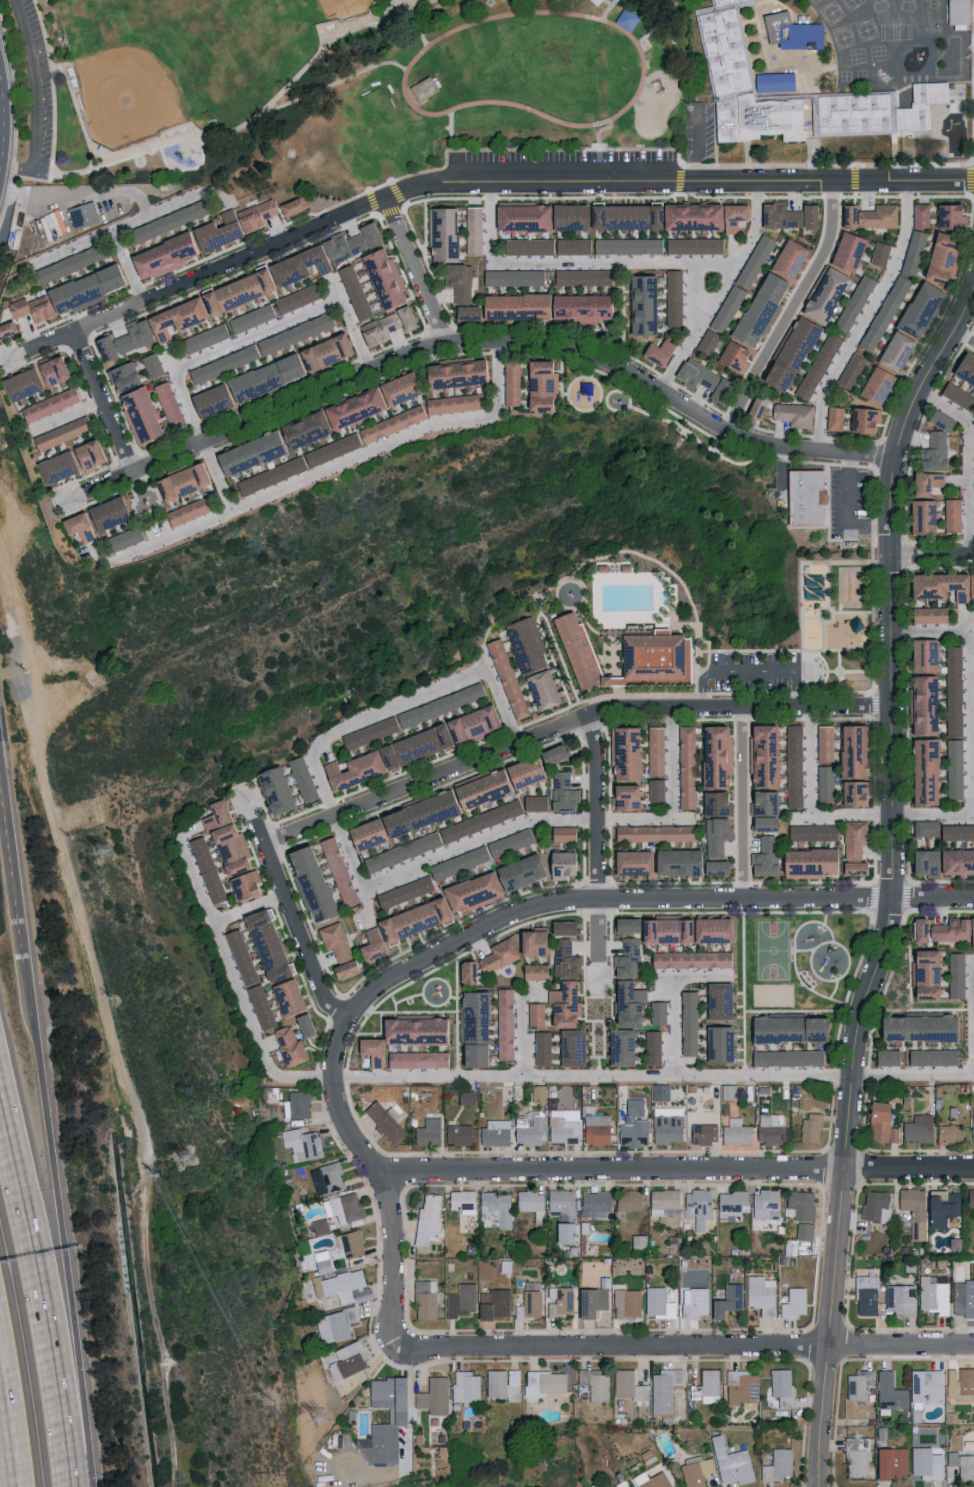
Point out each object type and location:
road: (610, 10)
park: (307, 13)
building: (962, 16)
road: (661, 24)
road: (612, 25)
road: (418, 27)
building: (798, 40)
park: (167, 63)
parking lot: (42, 84)
park: (339, 86)
building: (780, 87)
building: (804, 99)
road: (44, 105)
road: (2, 120)
road: (250, 122)
parking lot: (704, 133)
road: (453, 149)
road: (601, 149)
road: (701, 149)
parking lot: (567, 161)
road: (487, 186)
building: (85, 215)
building: (784, 215)
building: (918, 215)
building: (846, 216)
building: (876, 216)
building: (945, 216)
building: (573, 217)
building: (701, 217)
building: (171, 221)
building: (471, 230)
building: (441, 234)
building: (693, 245)
building: (546, 246)
building: (627, 246)
building: (843, 252)
building: (912, 252)
building: (878, 254)
building: (168, 256)
building: (785, 259)
building: (753, 260)
building: (936, 260)
road: (617, 262)
road: (418, 273)
building: (513, 277)
building: (579, 277)
building: (380, 278)
building: (458, 281)
building: (234, 291)
building: (68, 292)
building: (822, 295)
building: (672, 297)
building: (853, 303)
building: (639, 305)
building: (532, 308)
building: (726, 309)
building: (916, 309)
road: (791, 310)
building: (883, 313)
road: (866, 318)
building: (394, 320)
road: (698, 327)
building: (254, 334)
road: (964, 335)
road: (479, 341)
building: (706, 343)
building: (792, 343)
building: (892, 350)
building: (654, 352)
building: (731, 358)
building: (150, 364)
building: (816, 366)
building: (963, 369)
building: (849, 371)
building: (268, 374)
building: (453, 374)
building: (698, 378)
building: (771, 378)
building: (29, 379)
building: (510, 383)
building: (873, 384)
building: (535, 385)
building: (956, 395)
road: (105, 400)
building: (367, 401)
building: (167, 404)
building: (973, 404)
building: (46, 405)
building: (754, 408)
building: (791, 414)
building: (832, 418)
building: (861, 419)
building: (58, 433)
power tower: (3, 442)
building: (267, 443)
building: (969, 443)
building: (933, 444)
building: (64, 462)
road: (968, 462)
building: (179, 480)
road: (215, 481)
building: (922, 483)
building: (802, 497)
building: (973, 502)
road: (849, 512)
building: (951, 515)
building: (918, 517)
building: (89, 520)
building: (121, 539)
road: (933, 559)
building: (940, 586)
building: (926, 615)
road: (933, 632)
building: (523, 646)
building: (574, 652)
building: (919, 654)
road: (485, 658)
building: (648, 659)
road: (753, 668)
building: (505, 679)
building: (538, 690)
building: (953, 690)
building: (920, 703)
road: (387, 706)
building: (823, 743)
building: (410, 744)
building: (849, 749)
building: (654, 750)
building: (621, 751)
building: (549, 753)
building: (715, 755)
building: (760, 755)
road: (480, 760)
road: (813, 763)
road: (673, 764)
building: (793, 765)
building: (684, 766)
building: (953, 768)
building: (921, 769)
building: (520, 771)
building: (302, 777)
building: (824, 783)
building: (656, 789)
building: (562, 791)
building: (851, 791)
road: (973, 794)
building: (620, 796)
building: (452, 797)
building: (713, 801)
building: (764, 801)
road: (746, 804)
road: (600, 807)
building: (760, 822)
road: (255, 823)
road: (512, 827)
building: (923, 827)
building: (812, 831)
building: (956, 831)
building: (652, 832)
building: (560, 833)
building: (715, 836)
road: (15, 837)
building: (852, 839)
power tower: (111, 850)
building: (227, 851)
building: (920, 860)
building: (955, 860)
building: (662, 861)
building: (805, 861)
building: (558, 862)
building: (852, 867)
building: (336, 869)
road: (354, 871)
building: (515, 871)
road: (894, 881)
building: (468, 891)
road: (249, 904)
building: (621, 924)
building: (395, 926)
building: (558, 926)
building: (943, 929)
road: (471, 936)
building: (665, 937)
road: (598, 943)
building: (334, 947)
building: (563, 958)
building: (690, 958)
building: (529, 971)
building: (920, 972)
road: (235, 973)
building: (954, 974)
road: (695, 976)
building: (284, 996)
building: (716, 999)
building: (624, 1002)
building: (562, 1003)
building: (656, 1012)
building: (534, 1013)
building: (687, 1022)
building: (503, 1023)
road: (674, 1026)
building: (914, 1026)
building: (786, 1028)
road: (523, 1037)
building: (716, 1042)
building: (287, 1046)
building: (371, 1046)
building: (567, 1046)
building: (616, 1046)
building: (651, 1046)
building: (541, 1048)
building: (468, 1053)
building: (886, 1056)
building: (931, 1056)
building: (786, 1057)
road: (653, 1075)
building: (659, 1091)
building: (537, 1093)
building: (464, 1096)
building: (297, 1104)
building: (385, 1116)
building: (632, 1124)
building: (879, 1124)
building: (972, 1124)
building: (562, 1126)
building: (810, 1127)
building: (666, 1128)
building: (768, 1128)
building: (916, 1128)
building: (595, 1129)
building: (425, 1130)
building: (530, 1131)
building: (490, 1132)
building: (703, 1132)
building: (734, 1132)
building: (948, 1133)
building: (456, 1134)
building: (300, 1143)
power tower: (197, 1156)
road: (675, 1169)
building: (325, 1178)
building: (969, 1198)
building: (461, 1199)
building: (629, 1200)
building: (663, 1201)
building: (561, 1202)
building: (594, 1202)
building: (531, 1203)
building: (765, 1204)
building: (731, 1205)
building: (799, 1205)
building: (875, 1205)
building: (941, 1206)
building: (344, 1207)
building: (696, 1207)
building: (913, 1208)
building: (495, 1209)
building: (428, 1213)
road: (62, 1222)
building: (803, 1231)
building: (562, 1232)
building: (637, 1241)
building: (346, 1245)
building: (318, 1261)
road: (46, 1277)
building: (336, 1282)
building: (361, 1294)
building: (759, 1294)
building: (865, 1295)
building: (962, 1298)
building: (899, 1299)
building: (459, 1300)
building: (558, 1300)
building: (725, 1300)
building: (589, 1301)
building: (530, 1302)
building: (656, 1302)
building: (792, 1302)
building: (492, 1303)
building: (625, 1303)
building: (694, 1303)
building: (333, 1324)
road: (692, 1345)
building: (347, 1358)
building: (543, 1382)
building: (501, 1383)
building: (594, 1384)
building: (857, 1384)
building: (960, 1384)
building: (626, 1385)
building: (707, 1385)
building: (924, 1385)
building: (464, 1386)
building: (739, 1386)
building: (780, 1386)
building: (662, 1388)
building: (888, 1391)
building: (431, 1397)
building: (395, 1415)
power tower: (326, 1417)
road: (10, 1423)
building: (899, 1461)
building: (730, 1462)
building: (880, 1463)
building: (925, 1463)
building: (777, 1465)
building: (962, 1465)
building: (695, 1472)
building: (651, 1480)
building: (624, 1485)

